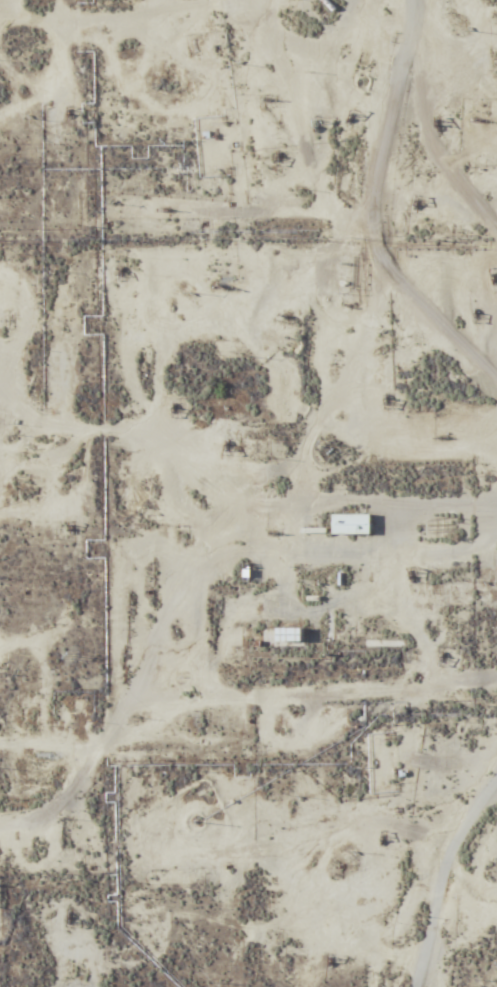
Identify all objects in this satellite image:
road: (154, 73)
road: (185, 124)
building: (351, 524)
building: (289, 635)

